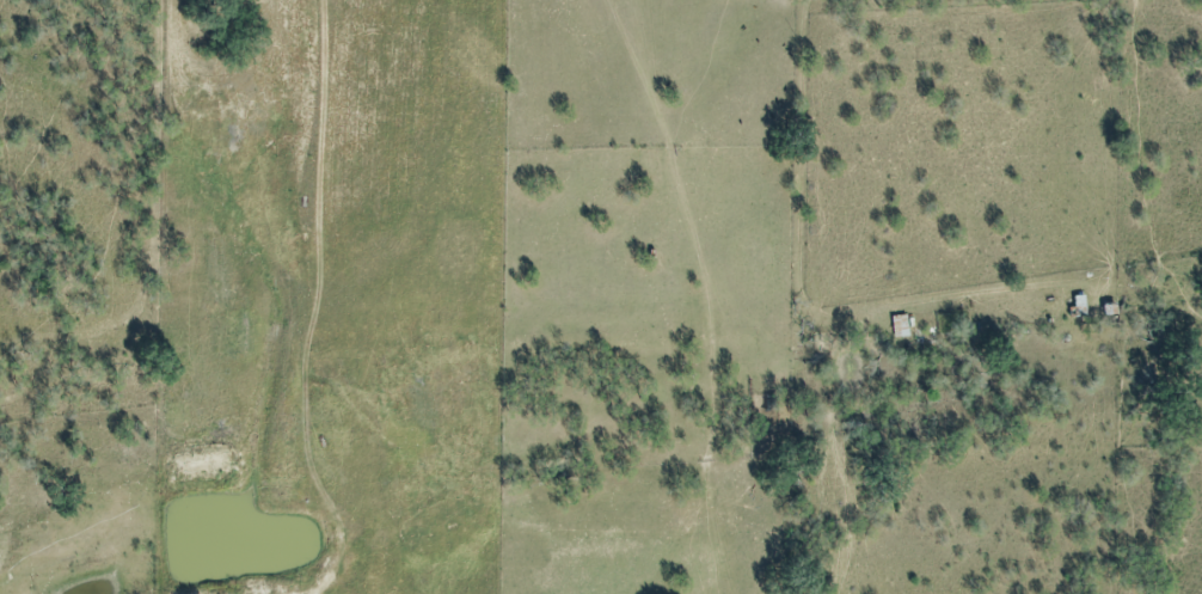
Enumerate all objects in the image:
road: (337, 259)

